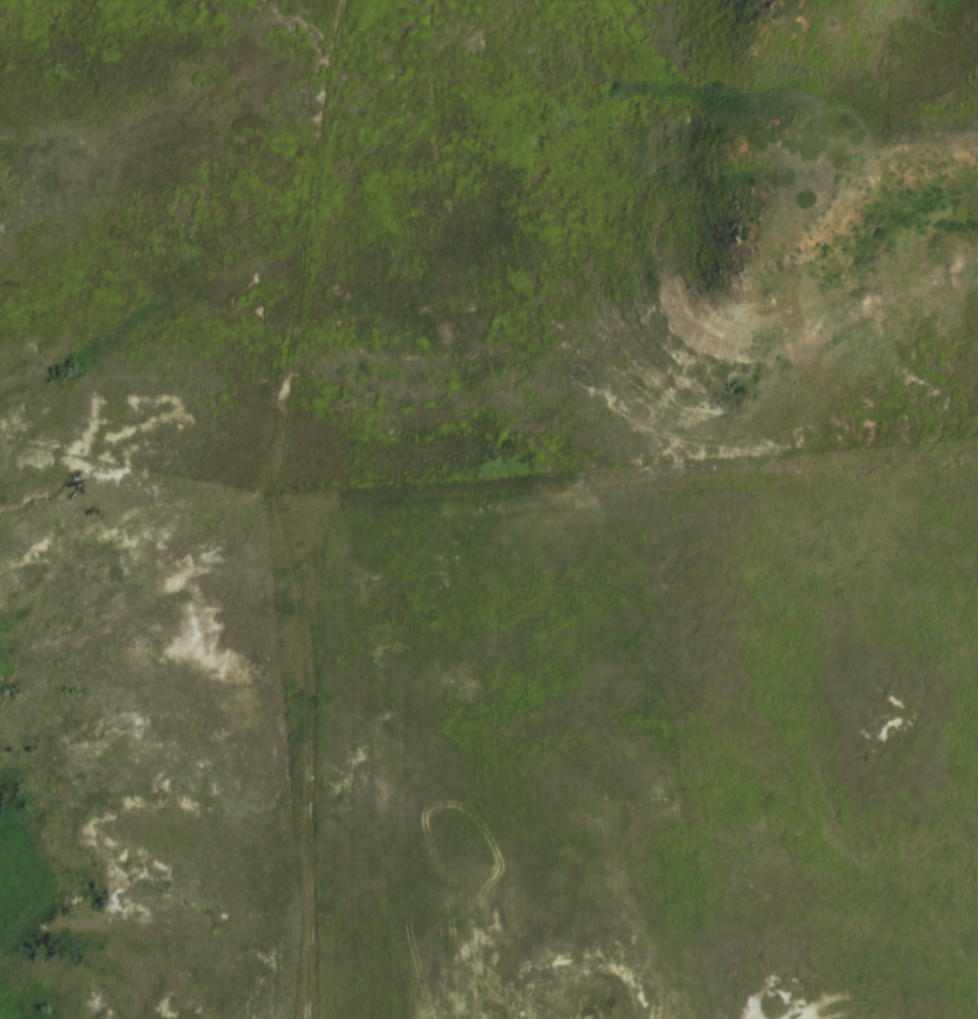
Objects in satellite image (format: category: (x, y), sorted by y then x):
road: (305, 706)

